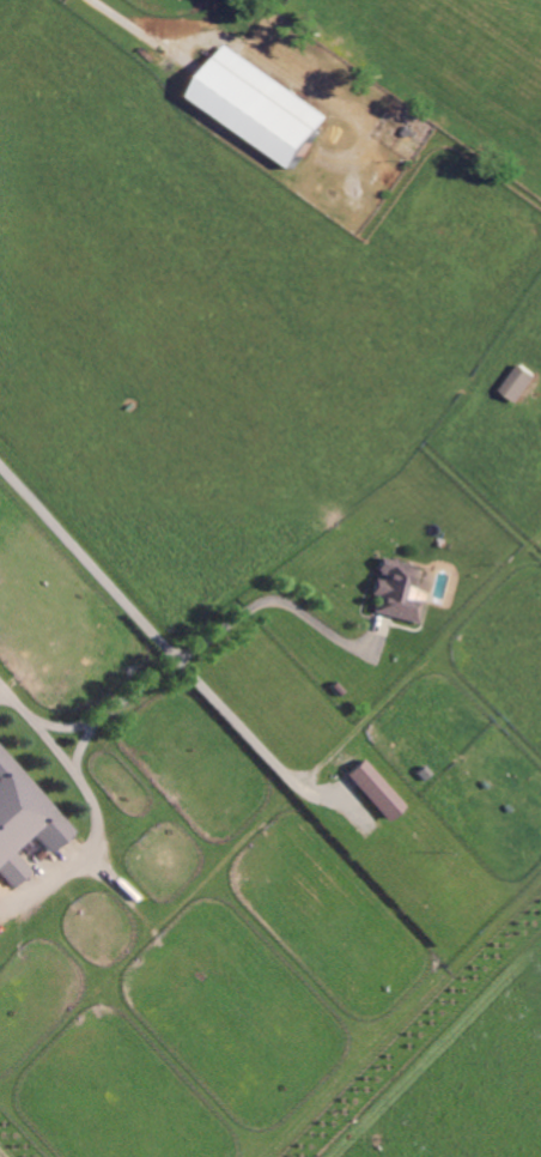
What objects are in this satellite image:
road: (135, 30)
building: (269, 107)
building: (528, 382)
building: (401, 589)
road: (280, 602)
road: (171, 649)
road: (115, 703)
road: (65, 723)
road: (83, 782)
building: (379, 790)
building: (25, 819)

